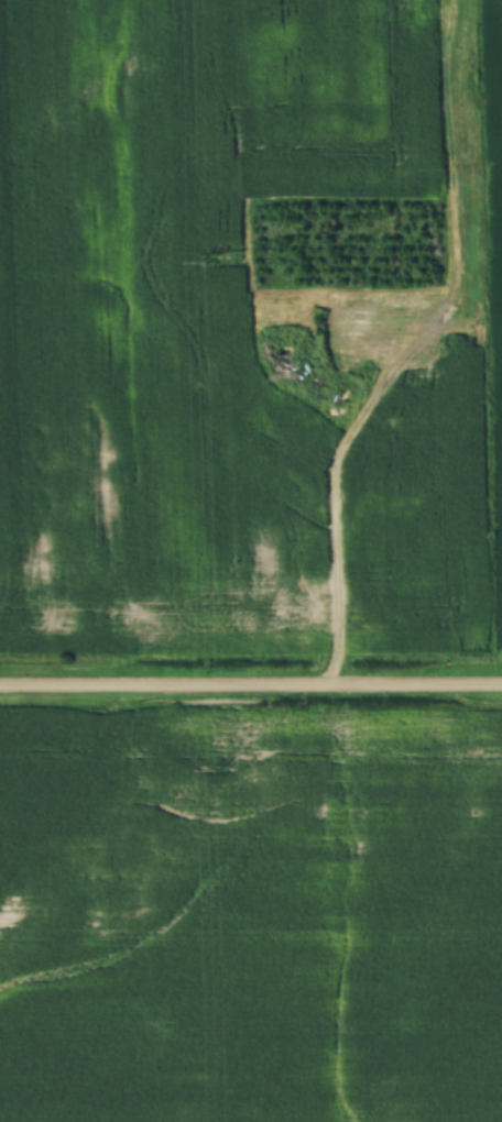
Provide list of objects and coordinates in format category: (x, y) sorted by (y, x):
power tower: (203, 262)
road: (251, 682)
power tower: (216, 769)

